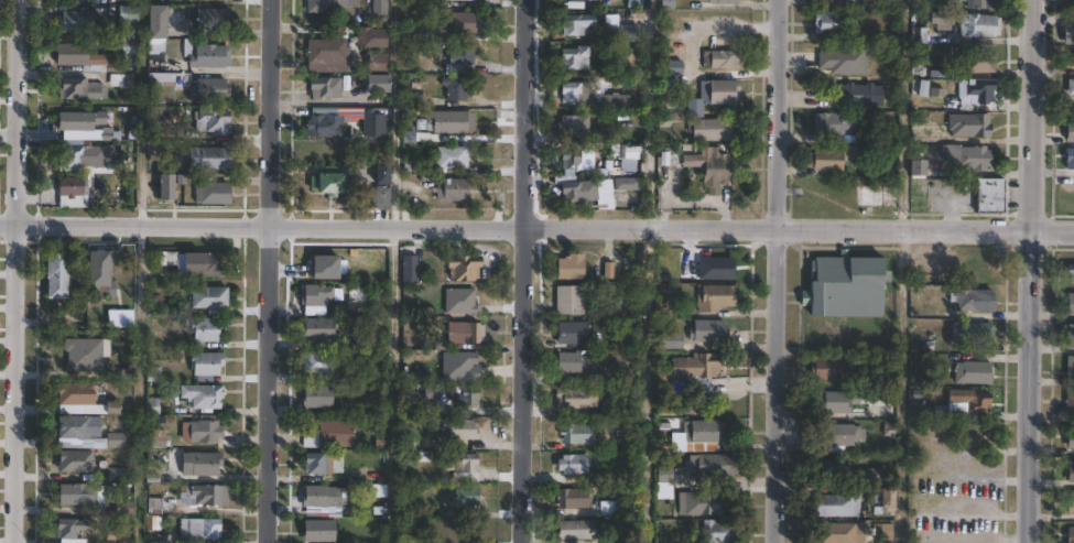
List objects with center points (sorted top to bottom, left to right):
building: (218, 0)
building: (462, 0)
building: (89, 1)
building: (575, 1)
building: (725, 1)
building: (833, 2)
building: (980, 3)
building: (329, 4)
building: (380, 8)
building: (942, 19)
building: (127, 20)
building: (214, 20)
building: (155, 22)
building: (76, 23)
building: (460, 23)
building: (832, 23)
building: (576, 24)
building: (979, 26)
building: (629, 33)
building: (421, 34)
building: (1068, 34)
building: (921, 35)
building: (370, 37)
building: (126, 48)
building: (460, 55)
building: (208, 56)
building: (327, 56)
building: (576, 58)
building: (84, 59)
building: (720, 59)
building: (845, 59)
building: (980, 62)
building: (377, 63)
building: (675, 67)
building: (160, 79)
building: (121, 80)
building: (378, 85)
building: (324, 87)
building: (1071, 87)
building: (457, 88)
building: (80, 89)
building: (208, 90)
building: (577, 93)
building: (973, 94)
building: (863, 95)
building: (668, 99)
building: (614, 101)
road: (141, 110)
building: (695, 115)
road: (904, 115)
building: (80, 121)
building: (211, 122)
building: (446, 122)
building: (834, 124)
building: (325, 126)
building: (572, 126)
building: (970, 126)
building: (1071, 132)
building: (919, 134)
building: (74, 156)
building: (626, 156)
building: (452, 158)
building: (968, 158)
building: (208, 159)
building: (1070, 159)
building: (577, 161)
building: (827, 161)
building: (710, 169)
building: (919, 170)
building: (381, 175)
building: (330, 184)
building: (627, 184)
building: (165, 188)
building: (452, 191)
building: (579, 192)
building: (72, 193)
building: (211, 194)
building: (875, 196)
building: (990, 196)
building: (380, 198)
road: (536, 226)
building: (915, 261)
building: (200, 265)
building: (571, 265)
building: (463, 267)
building: (409, 268)
building: (607, 268)
building: (975, 268)
road: (13, 271)
road: (271, 271)
road: (528, 271)
road: (774, 271)
road: (1031, 271)
building: (98, 273)
building: (1070, 273)
building: (56, 275)
building: (846, 285)
building: (316, 293)
building: (715, 296)
building: (208, 298)
building: (569, 298)
building: (459, 300)
building: (974, 300)
building: (1070, 305)
building: (76, 321)
building: (319, 327)
building: (206, 329)
building: (708, 330)
building: (974, 332)
building: (575, 333)
building: (458, 334)
building: (1070, 337)
building: (671, 340)
building: (83, 354)
building: (316, 361)
building: (568, 361)
building: (205, 363)
building: (460, 367)
building: (1070, 367)
building: (828, 372)
building: (974, 372)
building: (693, 373)
road: (392, 383)
road: (648, 385)
road: (901, 385)
building: (202, 395)
building: (317, 395)
building: (467, 398)
building: (576, 398)
building: (80, 399)
building: (851, 399)
building: (1070, 401)
building: (979, 402)
building: (77, 426)
building: (462, 430)
building: (200, 431)
building: (577, 433)
building: (330, 434)
building: (703, 434)
building: (837, 436)
building: (1070, 437)
building: (158, 438)
building: (115, 439)
building: (420, 456)
building: (74, 460)
building: (200, 463)
building: (317, 463)
building: (573, 463)
building: (712, 465)
building: (462, 467)
building: (827, 467)
building: (1070, 471)
building: (663, 481)
building: (76, 493)
building: (202, 495)
building: (464, 495)
building: (573, 498)
building: (322, 499)
building: (888, 500)
building: (1071, 502)
building: (703, 503)
building: (837, 504)
building: (617, 506)
building: (123, 508)
building: (198, 528)
building: (70, 530)
building: (318, 530)
building: (575, 530)
building: (717, 531)
building: (842, 532)
building: (1070, 534)

